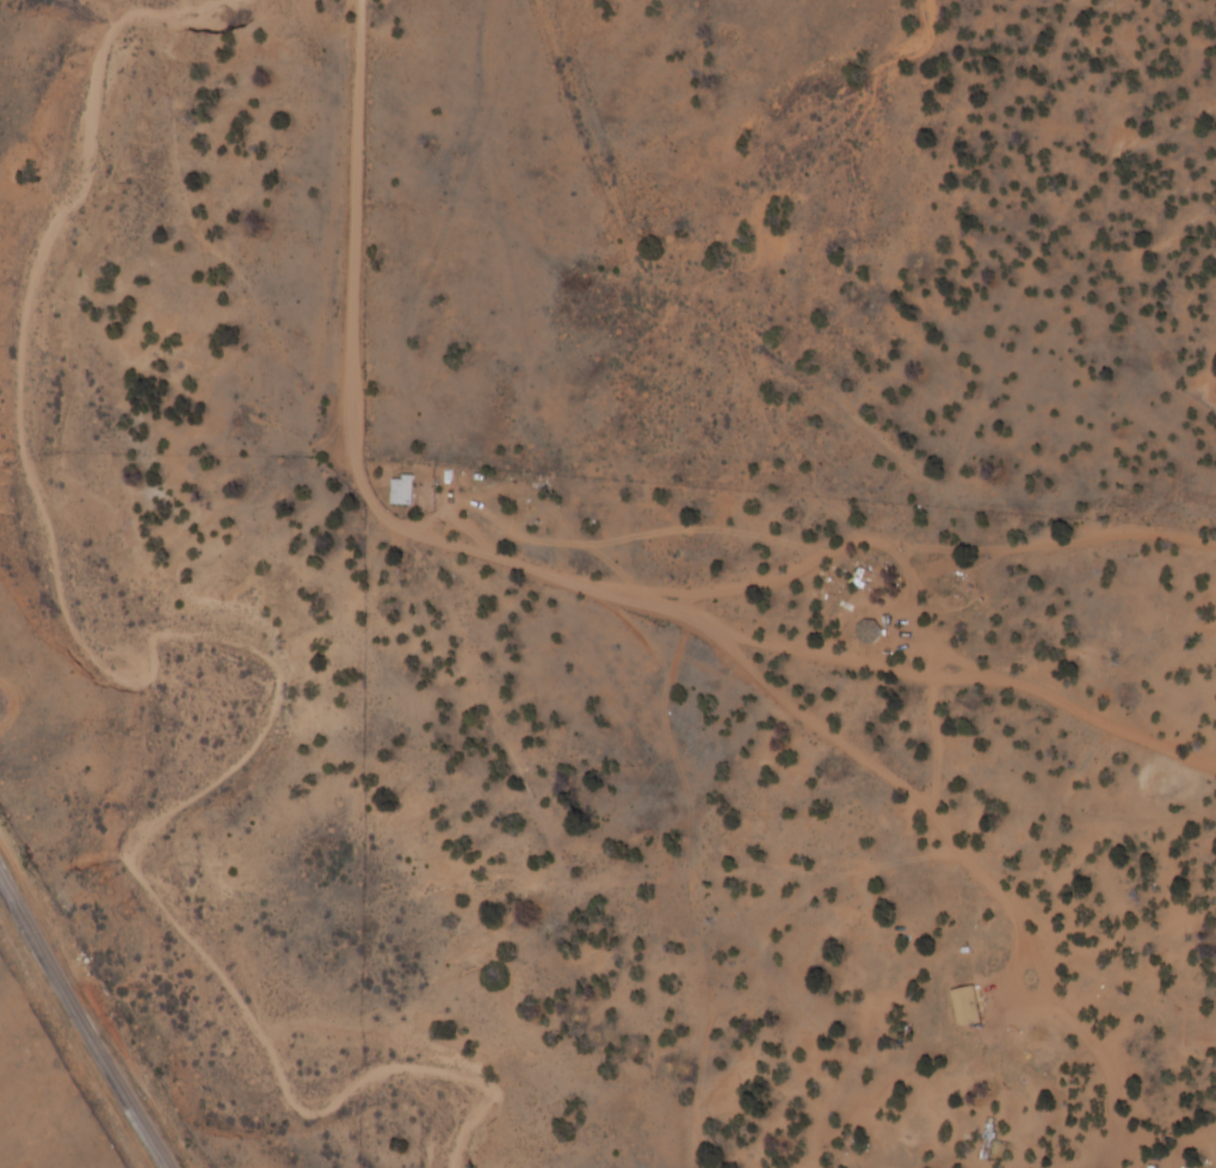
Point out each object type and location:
road: (983, 243)
building: (405, 489)
road: (625, 605)
road: (624, 606)
building: (969, 1006)
road: (85, 1022)
building: (987, 1143)

